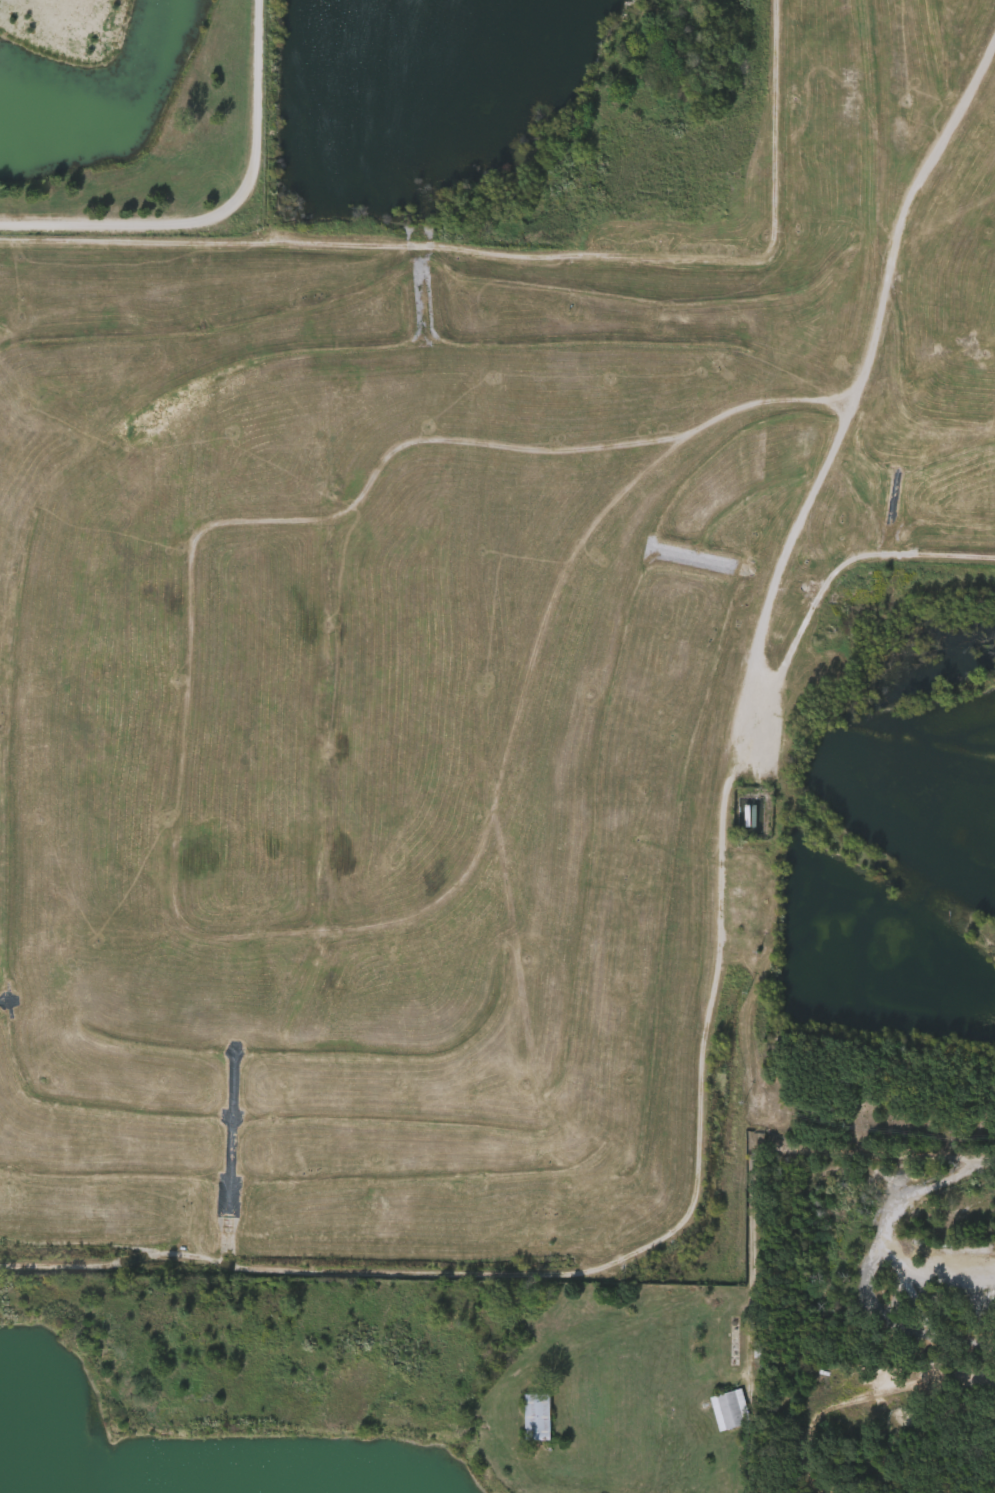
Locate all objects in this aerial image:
road: (880, 331)
road: (836, 574)
road: (718, 839)
road: (468, 960)
road: (764, 1154)
building: (736, 1342)
building: (732, 1409)
building: (540, 1415)
building: (717, 1415)
building: (525, 1421)

